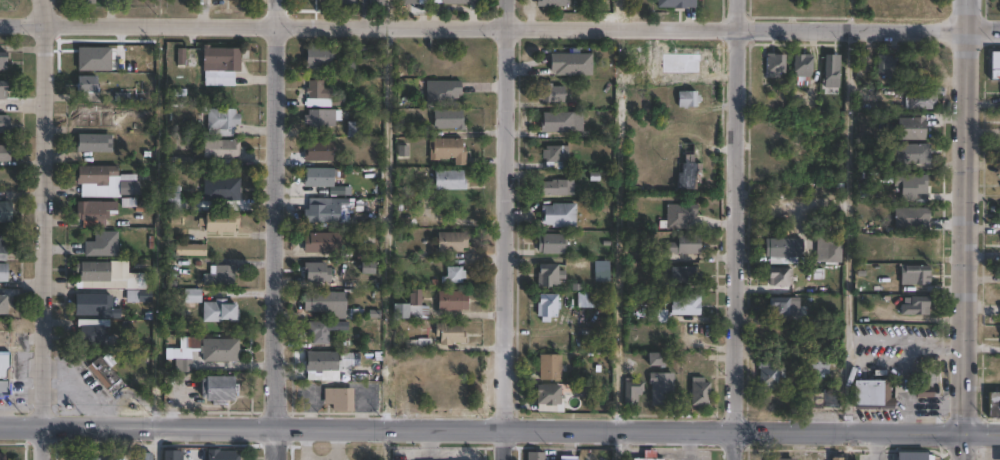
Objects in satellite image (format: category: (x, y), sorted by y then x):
building: (410, 1)
building: (458, 1)
building: (85, 2)
building: (347, 2)
building: (377, 3)
building: (551, 3)
building: (674, 3)
road: (41, 10)
road: (389, 13)
road: (968, 15)
road: (484, 26)
road: (984, 31)
building: (186, 59)
building: (220, 59)
building: (2, 60)
building: (327, 62)
building: (572, 63)
building: (772, 64)
building: (803, 64)
building: (886, 64)
building: (994, 64)
building: (686, 66)
building: (832, 68)
building: (86, 84)
building: (2, 89)
building: (317, 90)
building: (443, 91)
building: (551, 93)
building: (924, 98)
building: (688, 99)
building: (320, 119)
building: (448, 119)
building: (222, 121)
building: (561, 122)
building: (3, 123)
building: (910, 127)
building: (929, 127)
building: (354, 129)
building: (92, 143)
building: (221, 149)
building: (447, 149)
building: (318, 151)
building: (916, 152)
building: (4, 153)
building: (556, 154)
building: (689, 168)
building: (321, 180)
building: (449, 180)
building: (105, 182)
building: (910, 185)
building: (557, 187)
building: (220, 189)
building: (171, 198)
building: (91, 211)
building: (5, 212)
building: (325, 212)
building: (680, 214)
building: (559, 215)
building: (912, 218)
building: (999, 220)
building: (220, 222)
road: (384, 227)
road: (42, 229)
road: (276, 230)
road: (509, 230)
road: (734, 230)
road: (967, 233)
building: (451, 242)
building: (322, 243)
building: (552, 243)
building: (3, 244)
building: (102, 244)
building: (685, 244)
building: (190, 249)
building: (785, 251)
building: (834, 252)
building: (3, 272)
building: (316, 273)
building: (916, 274)
building: (454, 275)
building: (549, 275)
building: (105, 276)
building: (219, 276)
building: (685, 276)
building: (782, 277)
building: (138, 296)
building: (192, 296)
building: (585, 300)
building: (452, 301)
building: (325, 303)
building: (3, 304)
building: (686, 305)
building: (94, 306)
building: (916, 306)
building: (409, 307)
building: (547, 307)
building: (784, 307)
building: (220, 312)
building: (658, 316)
building: (91, 332)
building: (318, 332)
building: (450, 335)
building: (186, 345)
building: (423, 345)
building: (220, 350)
building: (656, 359)
building: (317, 362)
building: (3, 364)
building: (687, 364)
building: (183, 365)
building: (817, 365)
building: (550, 367)
building: (106, 374)
building: (768, 376)
building: (3, 387)
building: (661, 389)
building: (217, 390)
building: (699, 392)
building: (632, 394)
building: (548, 395)
building: (873, 395)
building: (339, 399)
building: (833, 399)
building: (993, 404)
road: (482, 430)
road: (983, 435)
road: (846, 447)
road: (965, 447)
building: (172, 454)
building: (221, 454)
building: (363, 454)
building: (142, 455)
building: (535, 455)
building: (910, 455)
building: (1, 456)
building: (90, 458)
building: (646, 458)
building: (837, 458)
building: (568, 459)
building: (782, 459)

